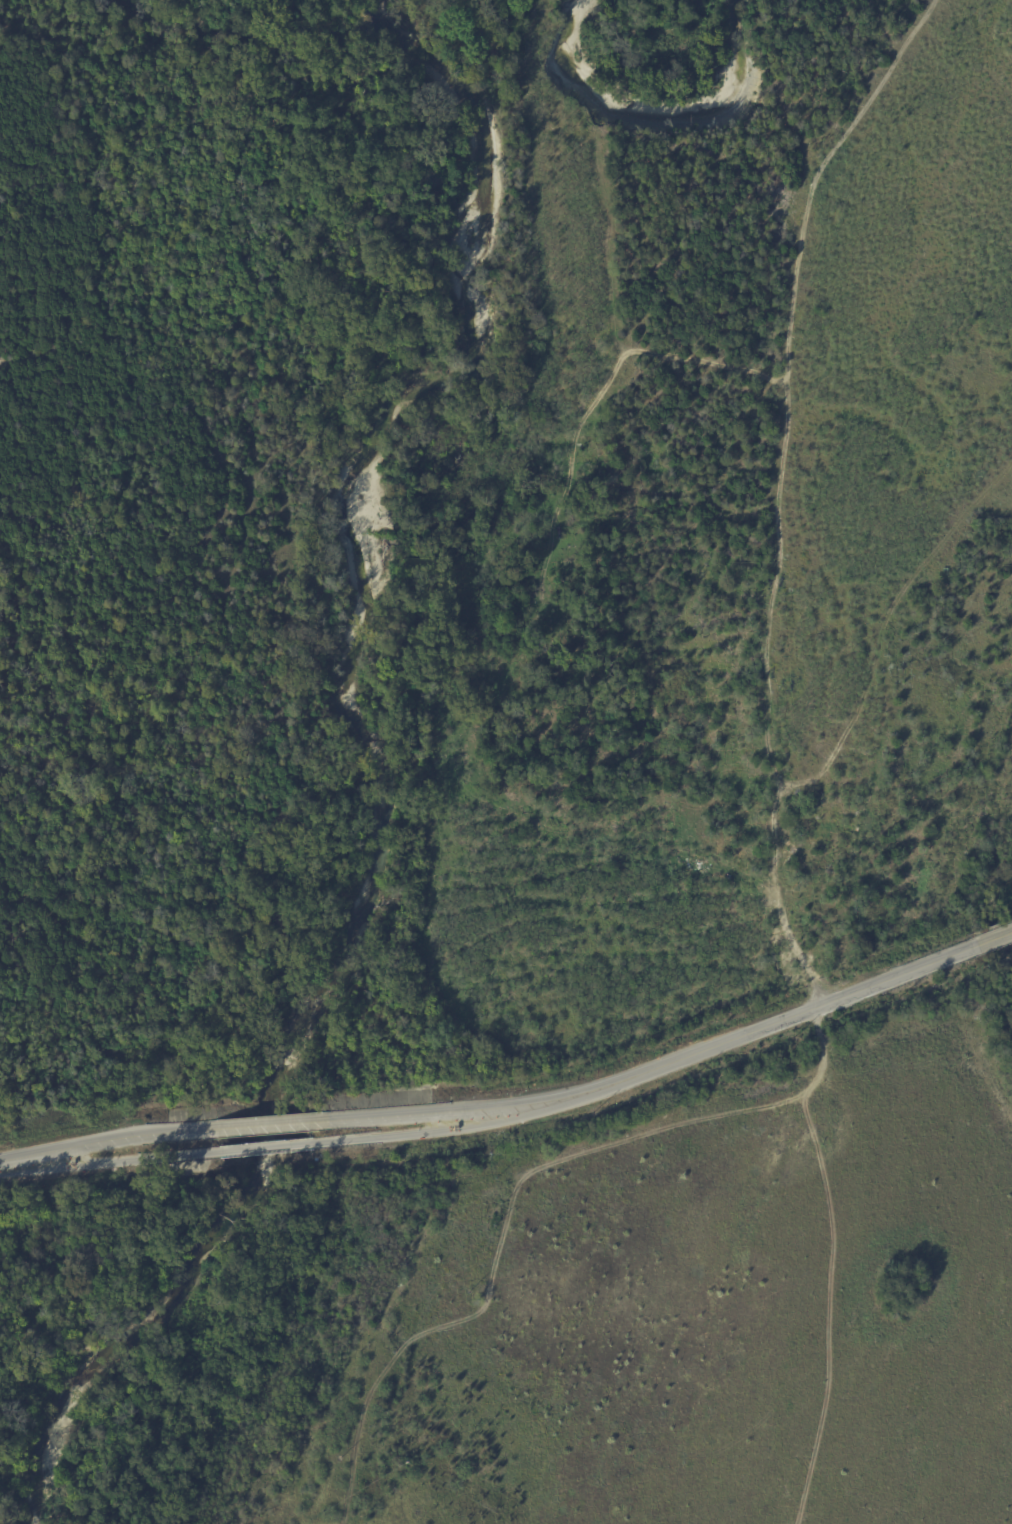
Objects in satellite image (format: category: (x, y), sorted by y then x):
road: (970, 159)
road: (922, 287)
building: (586, 448)
road: (968, 464)
road: (842, 495)
building: (776, 792)
building: (735, 830)
building: (781, 845)
road: (996, 938)
road: (783, 1019)
road: (452, 1107)
road: (270, 1121)
road: (448, 1128)
road: (110, 1136)
road: (264, 1147)
road: (111, 1160)

